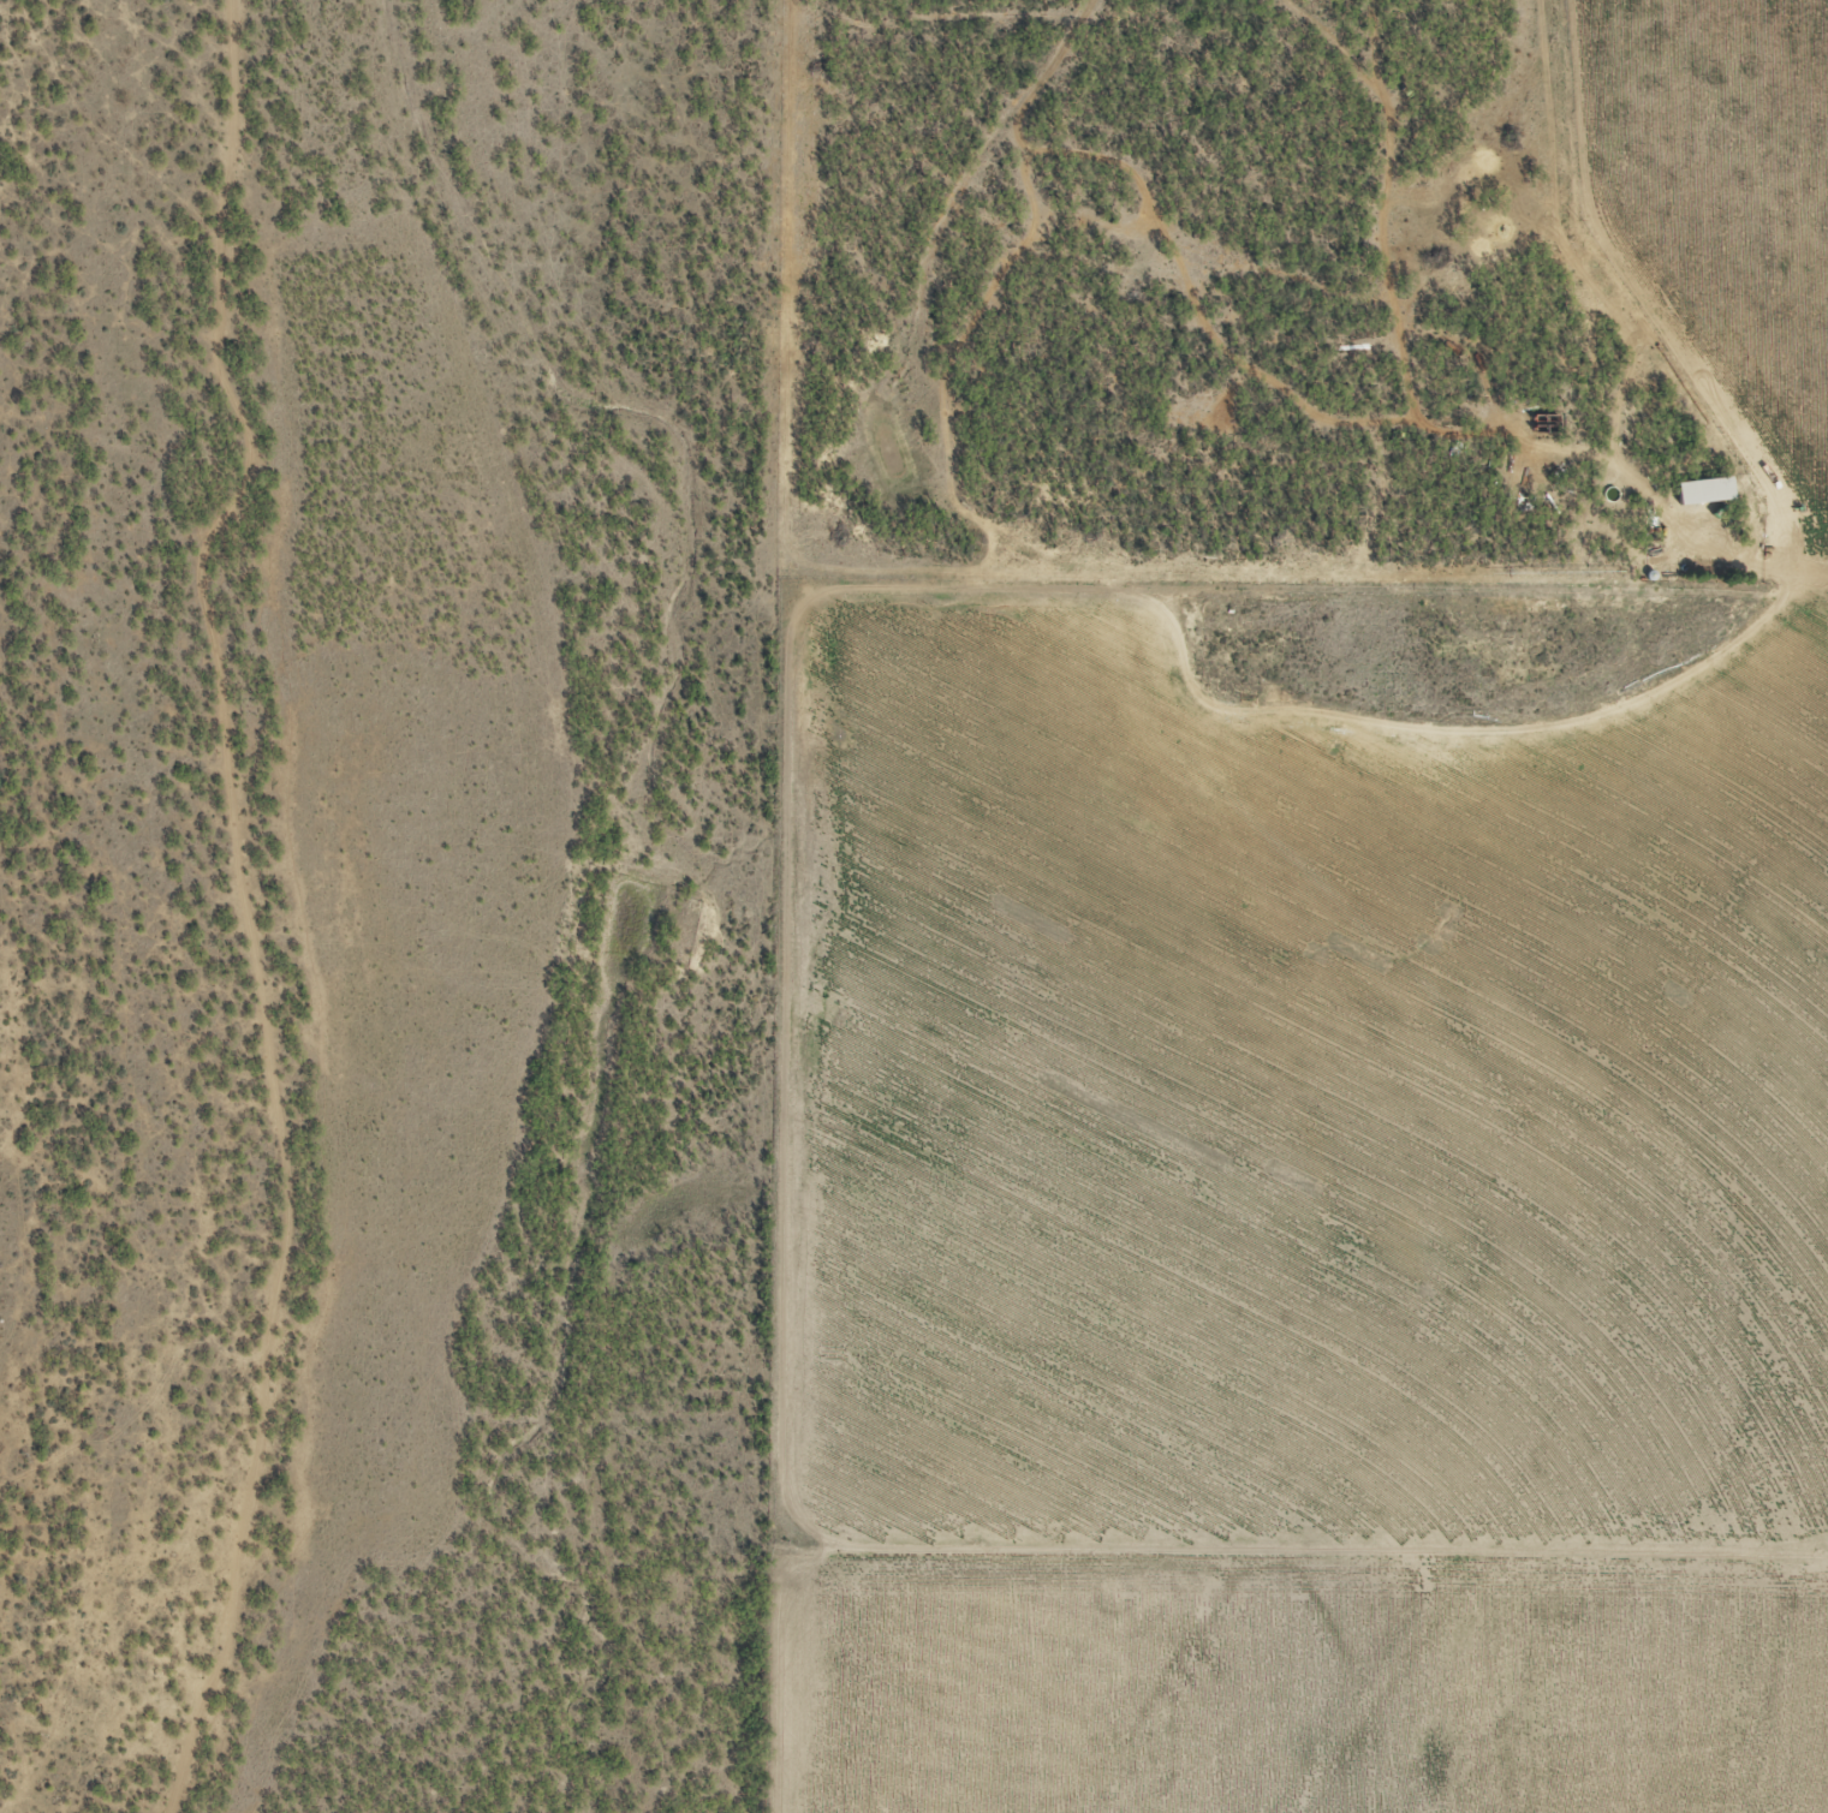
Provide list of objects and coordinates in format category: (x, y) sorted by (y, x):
building: (1707, 491)

